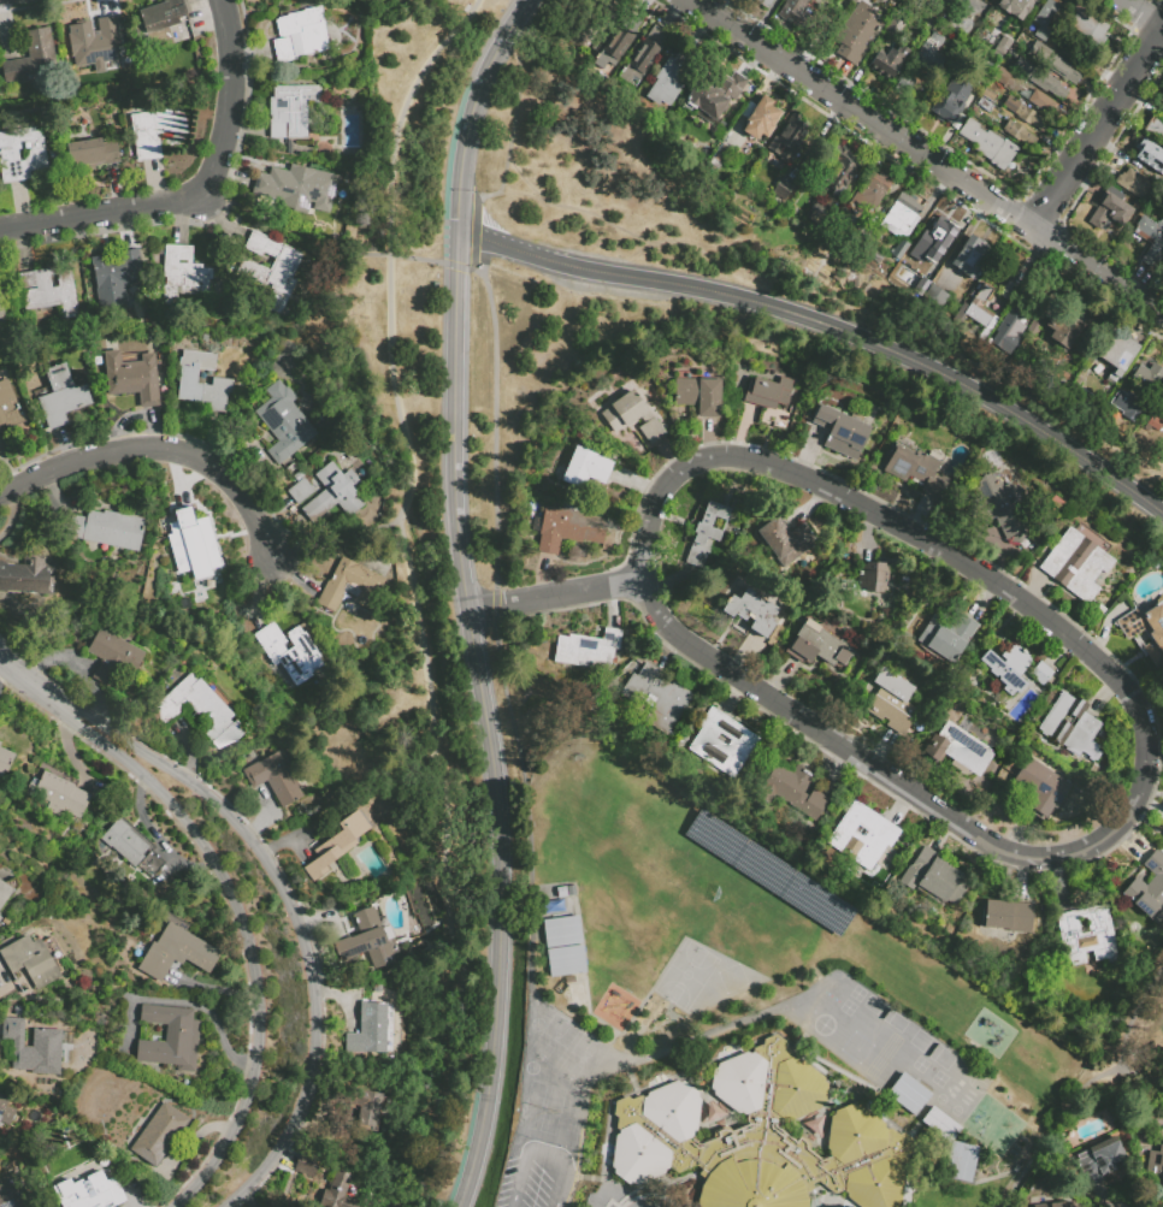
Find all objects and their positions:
building: (1011, 0)
building: (1023, 2)
building: (762, 4)
building: (843, 7)
building: (608, 10)
building: (940, 13)
road: (1143, 13)
road: (524, 14)
building: (1004, 14)
building: (163, 17)
building: (799, 19)
building: (1046, 20)
building: (961, 28)
building: (1091, 30)
building: (579, 34)
building: (991, 35)
building: (858, 36)
building: (300, 37)
building: (620, 45)
building: (100, 48)
building: (1073, 53)
building: (645, 58)
building: (33, 61)
building: (1046, 63)
building: (890, 64)
building: (927, 65)
building: (1003, 79)
building: (671, 81)
building: (1039, 83)
building: (905, 87)
building: (714, 99)
building: (1161, 99)
building: (1162, 102)
building: (1044, 105)
building: (949, 110)
building: (291, 112)
building: (762, 116)
building: (1025, 116)
road: (514, 123)
road: (468, 124)
road: (1098, 126)
building: (1156, 131)
building: (155, 132)
building: (1020, 136)
building: (791, 142)
building: (990, 147)
building: (20, 155)
building: (93, 155)
road: (926, 155)
building: (1151, 158)
building: (359, 165)
building: (840, 174)
building: (356, 178)
building: (1135, 185)
building: (296, 190)
road: (525, 191)
building: (785, 193)
building: (872, 194)
road: (201, 197)
building: (1109, 217)
building: (903, 218)
traffic signals: (460, 220)
building: (816, 220)
road: (474, 233)
building: (866, 233)
traffic signals: (478, 237)
road: (321, 241)
building: (931, 241)
building: (1152, 244)
building: (901, 254)
building: (875, 255)
building: (972, 258)
road: (457, 266)
building: (272, 268)
traffic signals: (456, 273)
building: (929, 273)
building: (183, 276)
building: (116, 278)
building: (49, 292)
building: (1010, 292)
building: (937, 296)
road: (830, 302)
building: (1, 313)
building: (979, 315)
road: (830, 325)
building: (1038, 325)
building: (1064, 331)
building: (1005, 343)
building: (1122, 351)
building: (1162, 365)
building: (1082, 375)
building: (134, 378)
building: (189, 378)
building: (1149, 379)
building: (645, 392)
building: (768, 394)
building: (699, 397)
building: (63, 398)
building: (1128, 407)
building: (10, 409)
building: (633, 418)
road: (454, 419)
building: (284, 425)
building: (1156, 425)
road: (494, 426)
building: (842, 434)
road: (165, 449)
road: (748, 457)
road: (409, 463)
building: (291, 469)
building: (586, 469)
building: (917, 472)
building: (299, 478)
building: (301, 492)
building: (332, 497)
building: (1057, 504)
building: (1000, 508)
building: (1055, 516)
building: (108, 531)
building: (568, 532)
building: (1088, 534)
building: (708, 536)
building: (786, 543)
road: (337, 545)
building: (1026, 545)
building: (195, 548)
building: (1076, 567)
building: (28, 578)
building: (870, 579)
building: (350, 587)
road: (551, 593)
road: (494, 607)
building: (1102, 611)
building: (752, 614)
building: (1146, 632)
building: (947, 638)
building: (821, 644)
building: (538, 647)
building: (589, 651)
building: (290, 653)
building: (113, 659)
road: (18, 668)
building: (1009, 669)
building: (1041, 674)
building: (657, 699)
building: (892, 703)
building: (196, 710)
building: (702, 710)
building: (1072, 729)
building: (0, 745)
building: (725, 745)
building: (960, 751)
building: (622, 762)
building: (5, 763)
building: (273, 780)
building: (1040, 788)
building: (793, 792)
building: (59, 797)
building: (1088, 804)
building: (821, 822)
road: (1146, 826)
building: (714, 836)
building: (863, 836)
building: (337, 846)
building: (134, 851)
building: (761, 868)
building: (935, 880)
building: (1149, 891)
building: (5, 895)
road: (291, 899)
building: (815, 903)
road: (502, 907)
building: (0, 915)
road: (238, 918)
building: (1009, 918)
building: (0, 921)
building: (562, 934)
building: (1088, 936)
building: (367, 941)
road: (530, 949)
road: (459, 952)
building: (177, 954)
building: (30, 964)
building: (567, 964)
park: (898, 969)
park: (685, 974)
park: (731, 977)
building: (19, 1012)
park: (884, 1013)
park: (535, 1023)
building: (372, 1031)
park: (551, 1039)
building: (170, 1040)
park: (1152, 1040)
park: (855, 1047)
building: (33, 1049)
park: (931, 1049)
park: (580, 1059)
park: (530, 1066)
park: (972, 1082)
road: (1078, 1082)
road: (464, 1084)
building: (905, 1093)
park: (940, 1097)
park: (531, 1104)
building: (6, 1105)
park: (550, 1108)
building: (365, 1110)
park: (954, 1110)
building: (938, 1123)
road: (580, 1125)
building: (159, 1136)
building: (758, 1137)
building: (45, 1155)
road: (523, 1158)
building: (960, 1161)
building: (1100, 1161)
building: (307, 1166)
building: (1156, 1168)
road: (559, 1184)
building: (13, 1193)
building: (89, 1193)
building: (338, 1194)
building: (1062, 1205)

